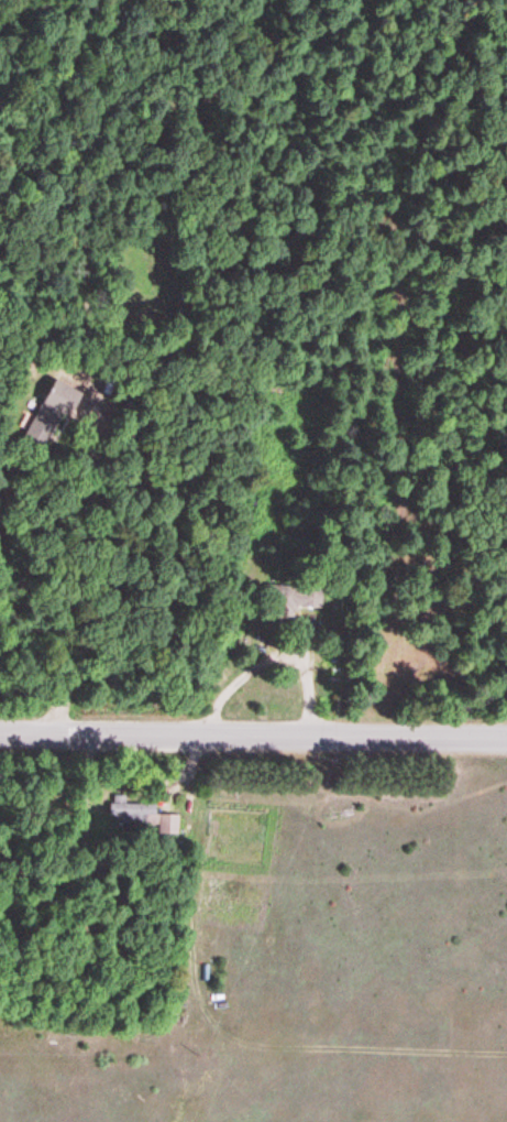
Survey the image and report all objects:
road: (253, 738)
building: (158, 821)

